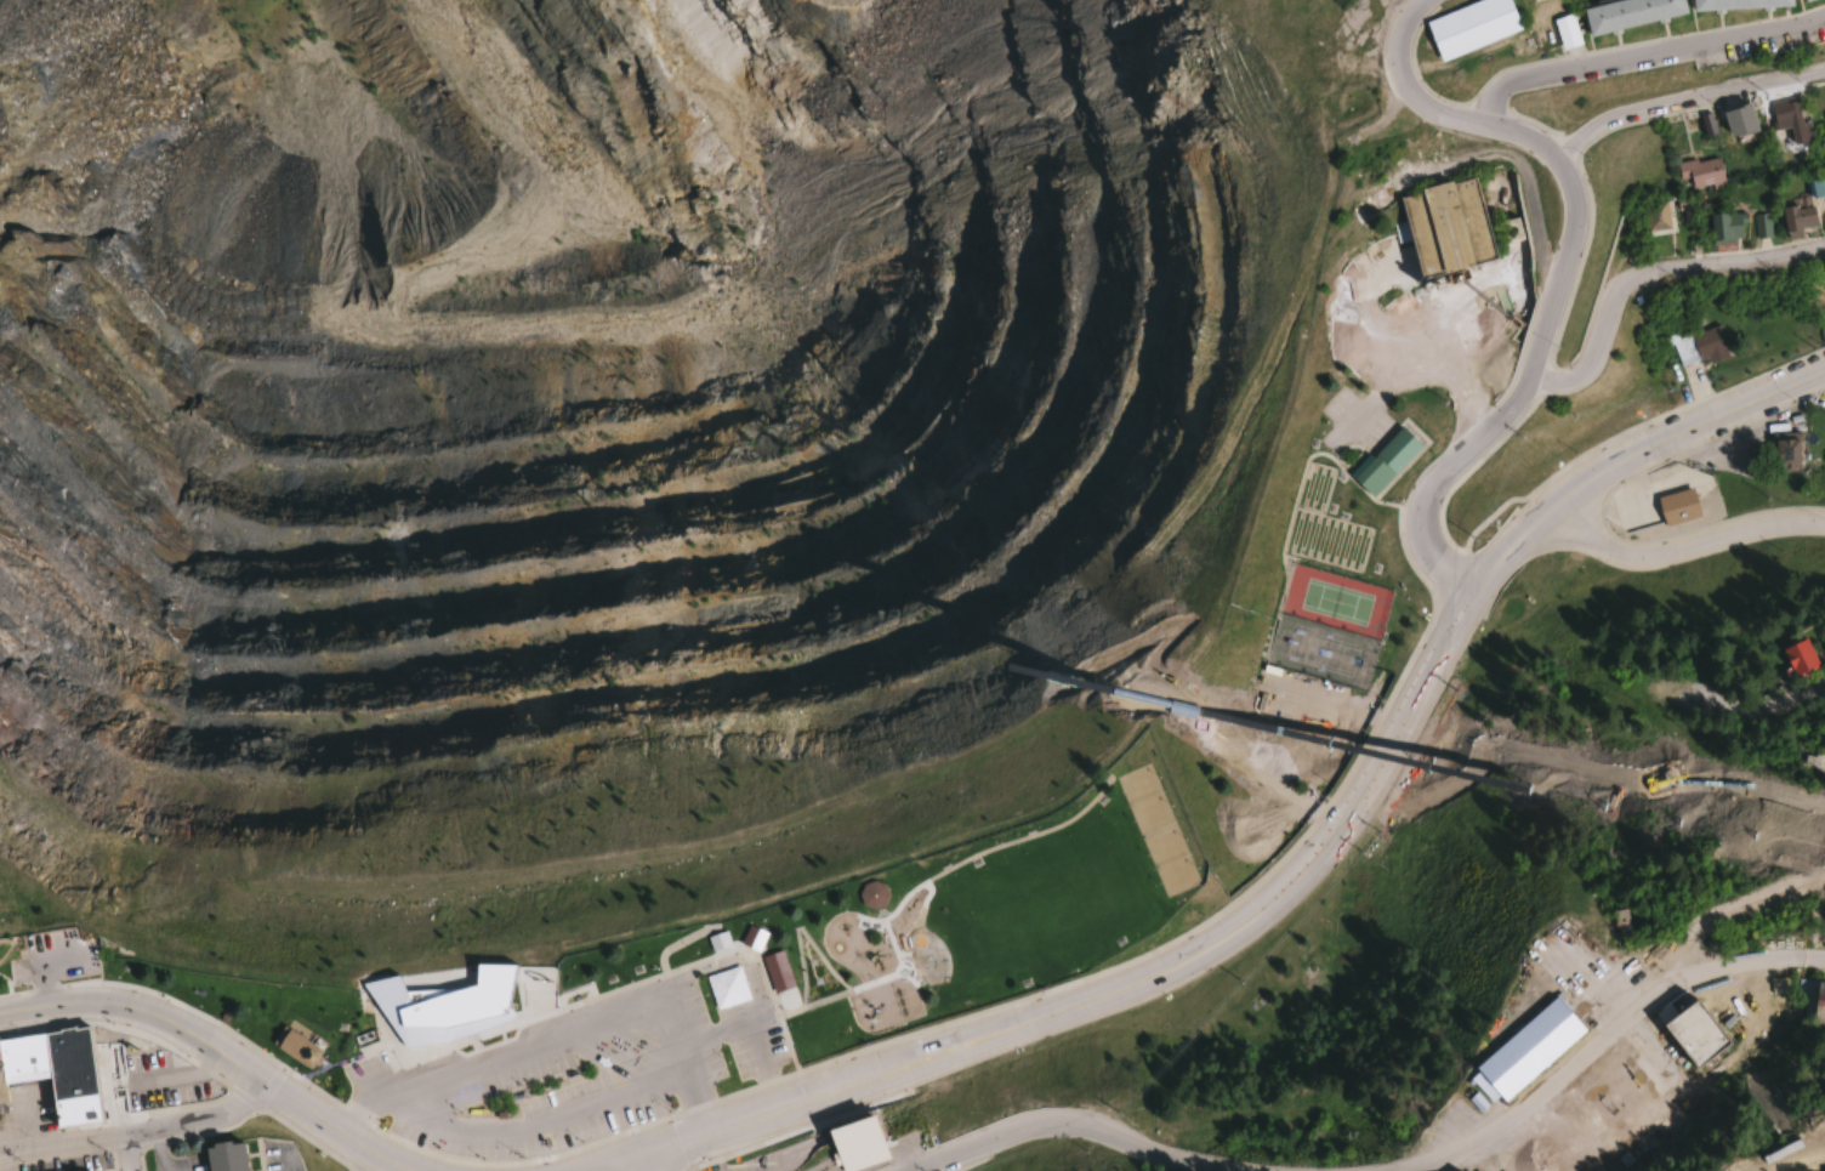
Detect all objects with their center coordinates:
building: (1802, 0)
building: (1628, 13)
building: (1469, 27)
building: (1564, 32)
road: (1639, 49)
road: (1684, 100)
building: (1738, 120)
building: (1787, 120)
building: (1700, 172)
building: (1815, 188)
building: (1660, 218)
building: (1795, 220)
building: (1823, 223)
building: (1761, 226)
building: (1727, 227)
building: (1444, 228)
road: (1650, 272)
road: (1567, 275)
building: (1707, 342)
quarry: (599, 408)
building: (1786, 450)
building: (1383, 462)
building: (1677, 506)
road: (1681, 540)
building: (1800, 660)
building: (1823, 749)
park: (1130, 801)
road: (1306, 871)
building: (870, 898)
road: (1728, 910)
building: (1618, 917)
building: (749, 940)
building: (775, 972)
building: (423, 1004)
building: (1813, 1004)
building: (1692, 1031)
building: (362, 1035)
road: (1601, 1040)
building: (288, 1046)
building: (1522, 1050)
road: (216, 1055)
parking lot: (575, 1069)
building: (53, 1073)
road: (1030, 1121)
road: (137, 1135)
road: (129, 1154)
building: (223, 1158)
road: (1200, 1159)
road: (374, 1164)
road: (1802, 1164)
building: (1455, 1169)

